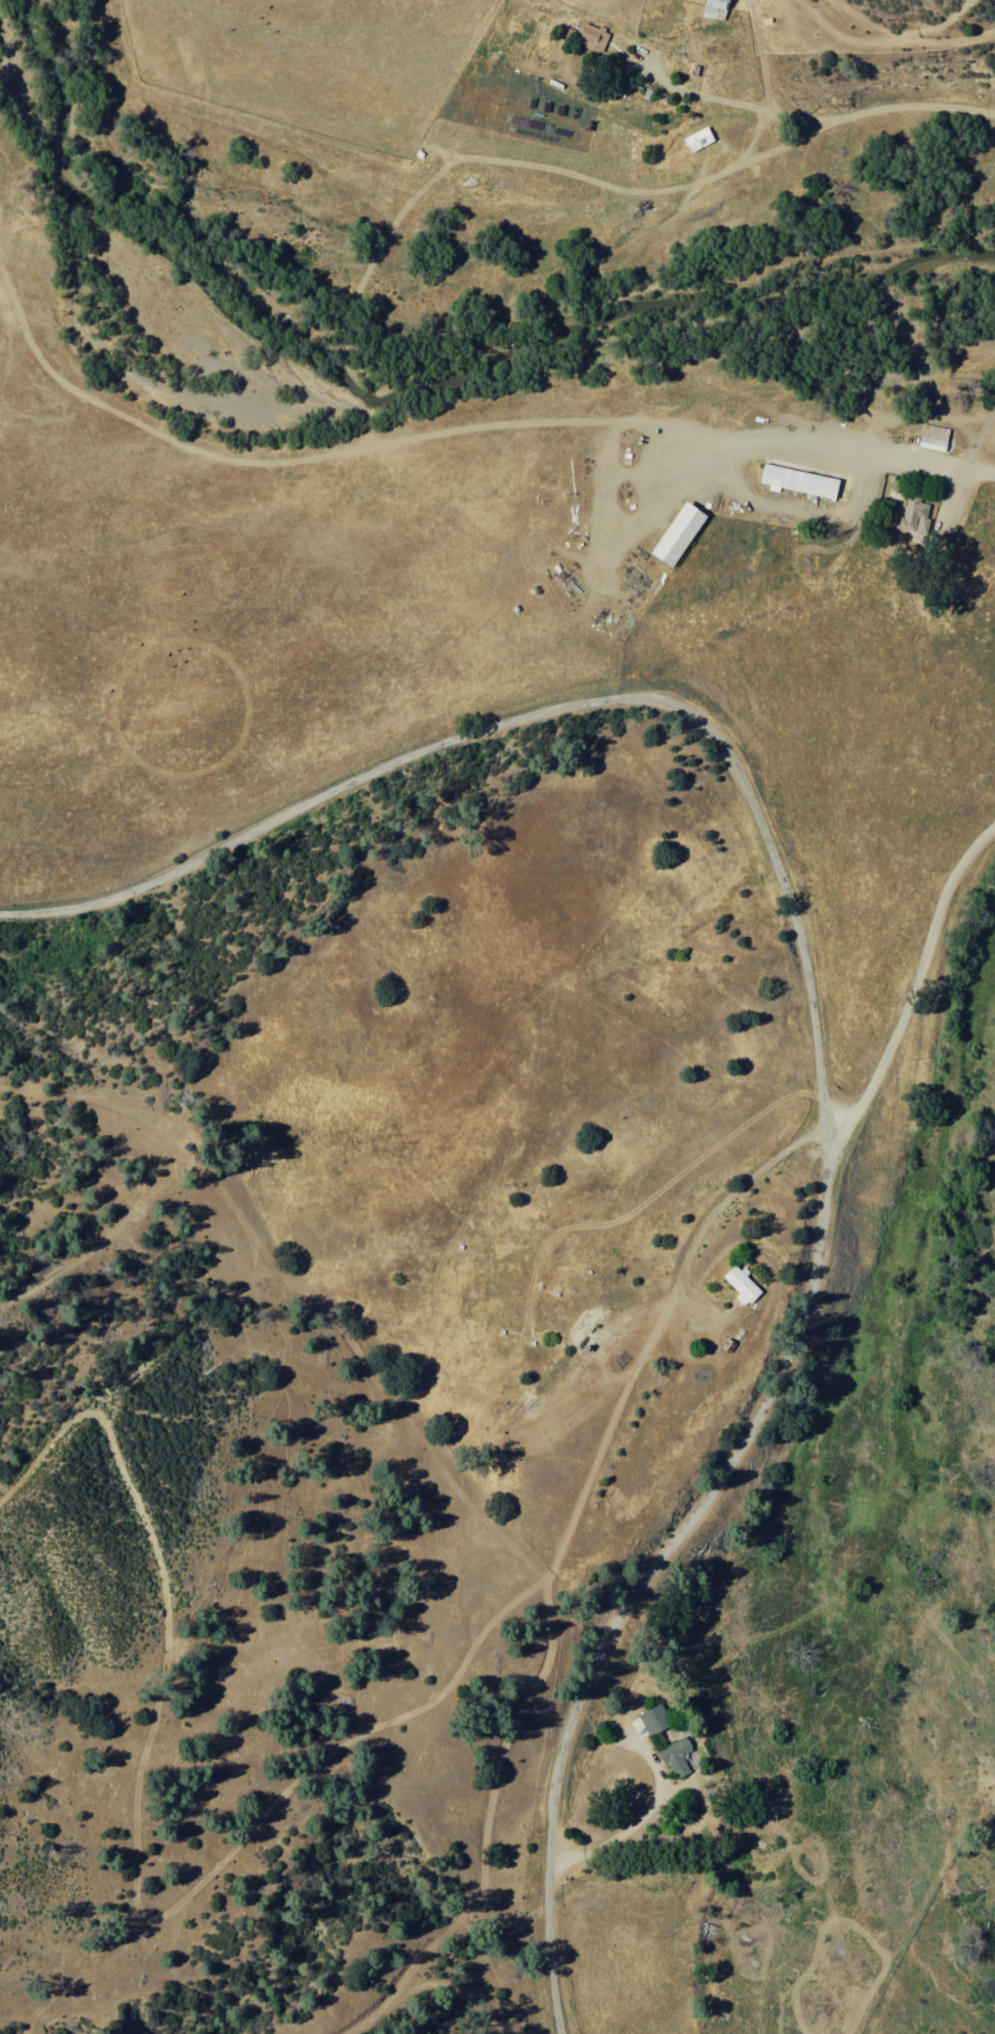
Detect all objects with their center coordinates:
building: (711, 10)
building: (589, 37)
road: (895, 42)
road: (765, 72)
road: (880, 103)
building: (696, 141)
road: (689, 200)
river: (776, 299)
building: (930, 436)
road: (898, 452)
building: (799, 478)
building: (911, 518)
building: (675, 535)
road: (912, 992)
road: (814, 1020)
river: (936, 1137)
building: (741, 1281)
building: (666, 1738)
road: (423, 1986)

